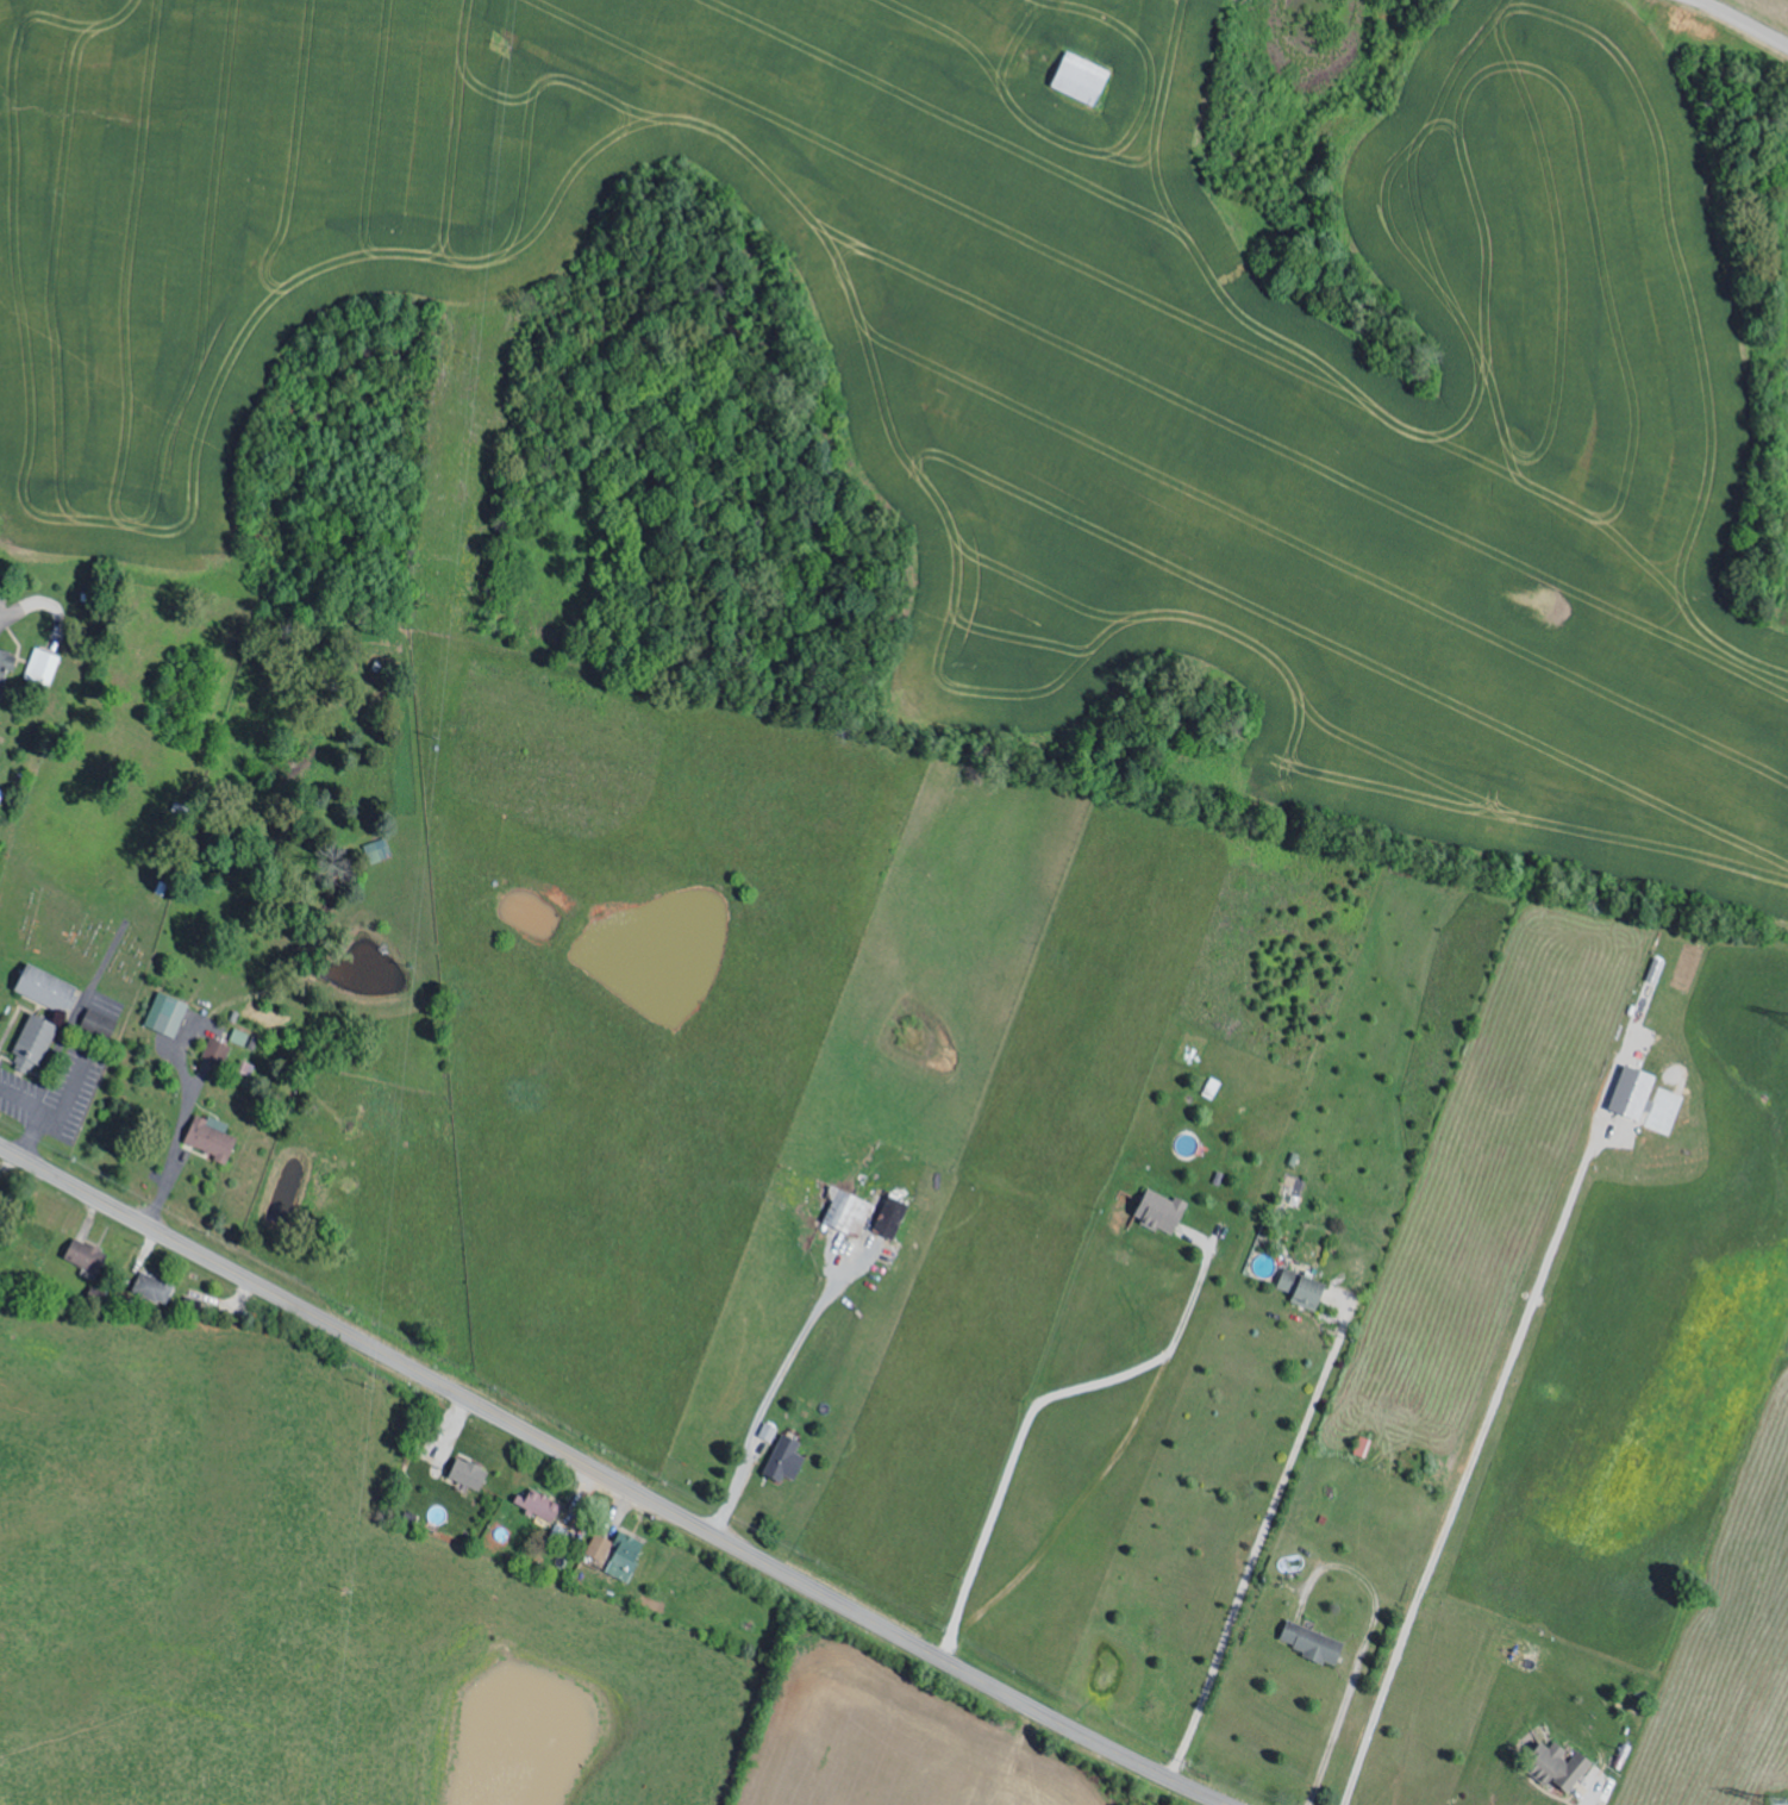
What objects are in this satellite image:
road: (1743, 20)
building: (1084, 79)
building: (44, 667)
building: (5, 670)
building: (380, 849)
park: (76, 922)
building: (1658, 969)
building: (50, 987)
building: (169, 1013)
building: (101, 1022)
building: (36, 1042)
building: (1636, 1091)
building: (213, 1136)
building: (843, 1208)
building: (1163, 1210)
building: (893, 1217)
building: (88, 1255)
building: (155, 1287)
building: (1307, 1288)
building: (770, 1431)
building: (1365, 1445)
building: (788, 1457)
building: (471, 1473)
road: (613, 1479)
building: (542, 1504)
building: (602, 1547)
building: (627, 1556)
building: (1315, 1642)
building: (1562, 1765)

